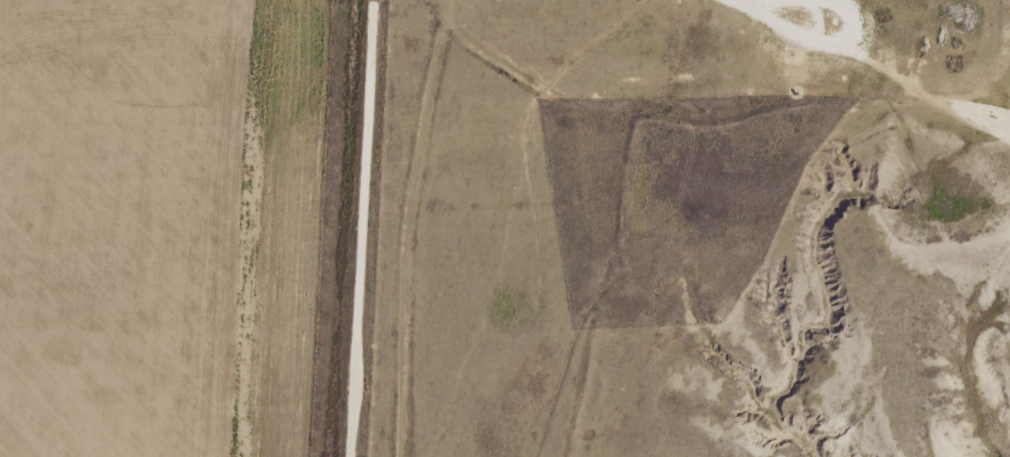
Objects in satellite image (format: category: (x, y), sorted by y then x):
road: (911, 44)

